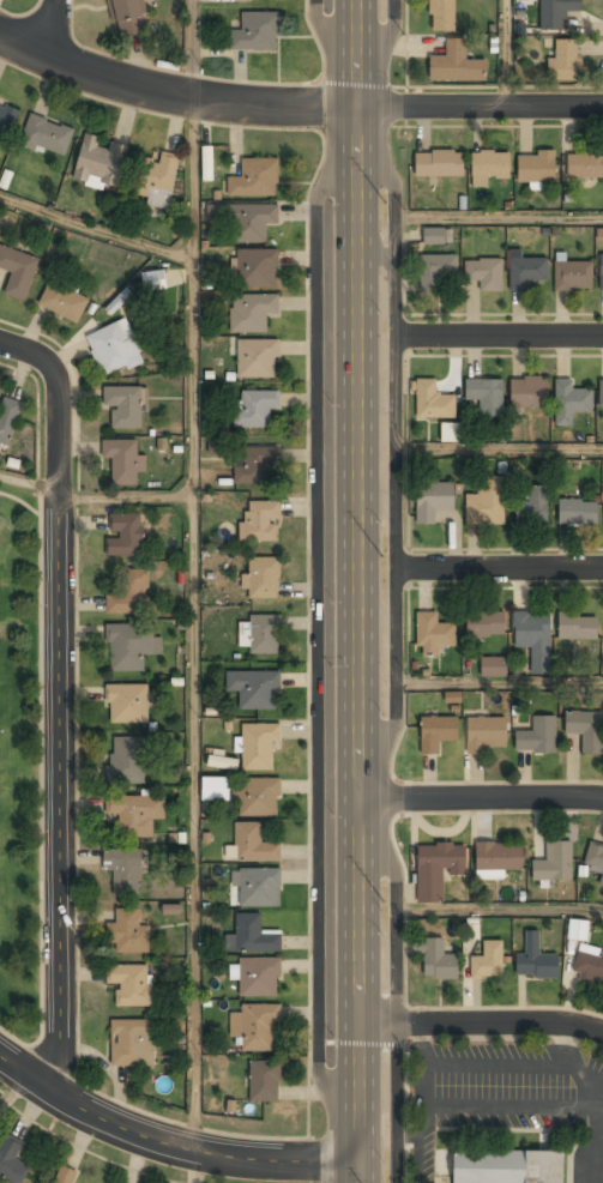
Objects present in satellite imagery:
building: (557, 12)
building: (442, 16)
building: (129, 17)
road: (48, 26)
building: (255, 32)
road: (325, 32)
road: (387, 38)
road: (193, 49)
road: (506, 53)
building: (565, 60)
building: (456, 64)
road: (173, 93)
road: (480, 107)
building: (6, 121)
building: (47, 135)
building: (100, 161)
building: (440, 164)
building: (490, 164)
building: (585, 165)
building: (536, 169)
building: (159, 174)
building: (254, 179)
power tower: (386, 195)
road: (480, 218)
building: (245, 219)
road: (96, 230)
building: (436, 236)
building: (255, 268)
building: (18, 270)
building: (436, 270)
building: (525, 271)
building: (601, 272)
building: (484, 273)
building: (573, 276)
building: (153, 279)
building: (64, 301)
building: (252, 312)
road: (500, 336)
building: (115, 348)
building: (257, 360)
building: (529, 393)
building: (601, 393)
building: (486, 397)
building: (433, 402)
building: (571, 402)
building: (125, 404)
building: (254, 408)
building: (8, 418)
building: (450, 431)
road: (500, 449)
building: (123, 459)
building: (257, 466)
road: (28, 481)
road: (398, 497)
road: (126, 499)
building: (433, 500)
building: (487, 502)
building: (533, 505)
building: (577, 512)
building: (260, 521)
building: (125, 535)
power tower: (384, 542)
road: (500, 567)
building: (261, 578)
road: (357, 591)
building: (129, 594)
road: (195, 623)
building: (486, 624)
building: (578, 627)
road: (316, 633)
building: (261, 634)
building: (433, 634)
building: (533, 639)
building: (131, 646)
building: (494, 668)
road: (500, 683)
building: (259, 690)
road: (56, 699)
building: (127, 705)
building: (586, 730)
building: (436, 734)
building: (484, 734)
building: (536, 735)
building: (258, 747)
building: (126, 760)
park: (23, 762)
building: (215, 787)
building: (260, 797)
road: (480, 797)
building: (135, 814)
building: (252, 845)
building: (500, 857)
building: (595, 858)
building: (555, 862)
building: (438, 869)
building: (123, 871)
building: (259, 887)
power tower: (385, 887)
road: (500, 907)
building: (170, 909)
building: (577, 929)
building: (128, 932)
building: (253, 935)
building: (436, 959)
building: (536, 960)
building: (488, 961)
building: (590, 967)
building: (257, 976)
building: (131, 984)
road: (396, 1000)
road: (481, 1024)
building: (257, 1027)
building: (131, 1043)
building: (265, 1082)
road: (16, 1092)
road: (167, 1142)
building: (12, 1160)
building: (507, 1166)
building: (66, 1175)

